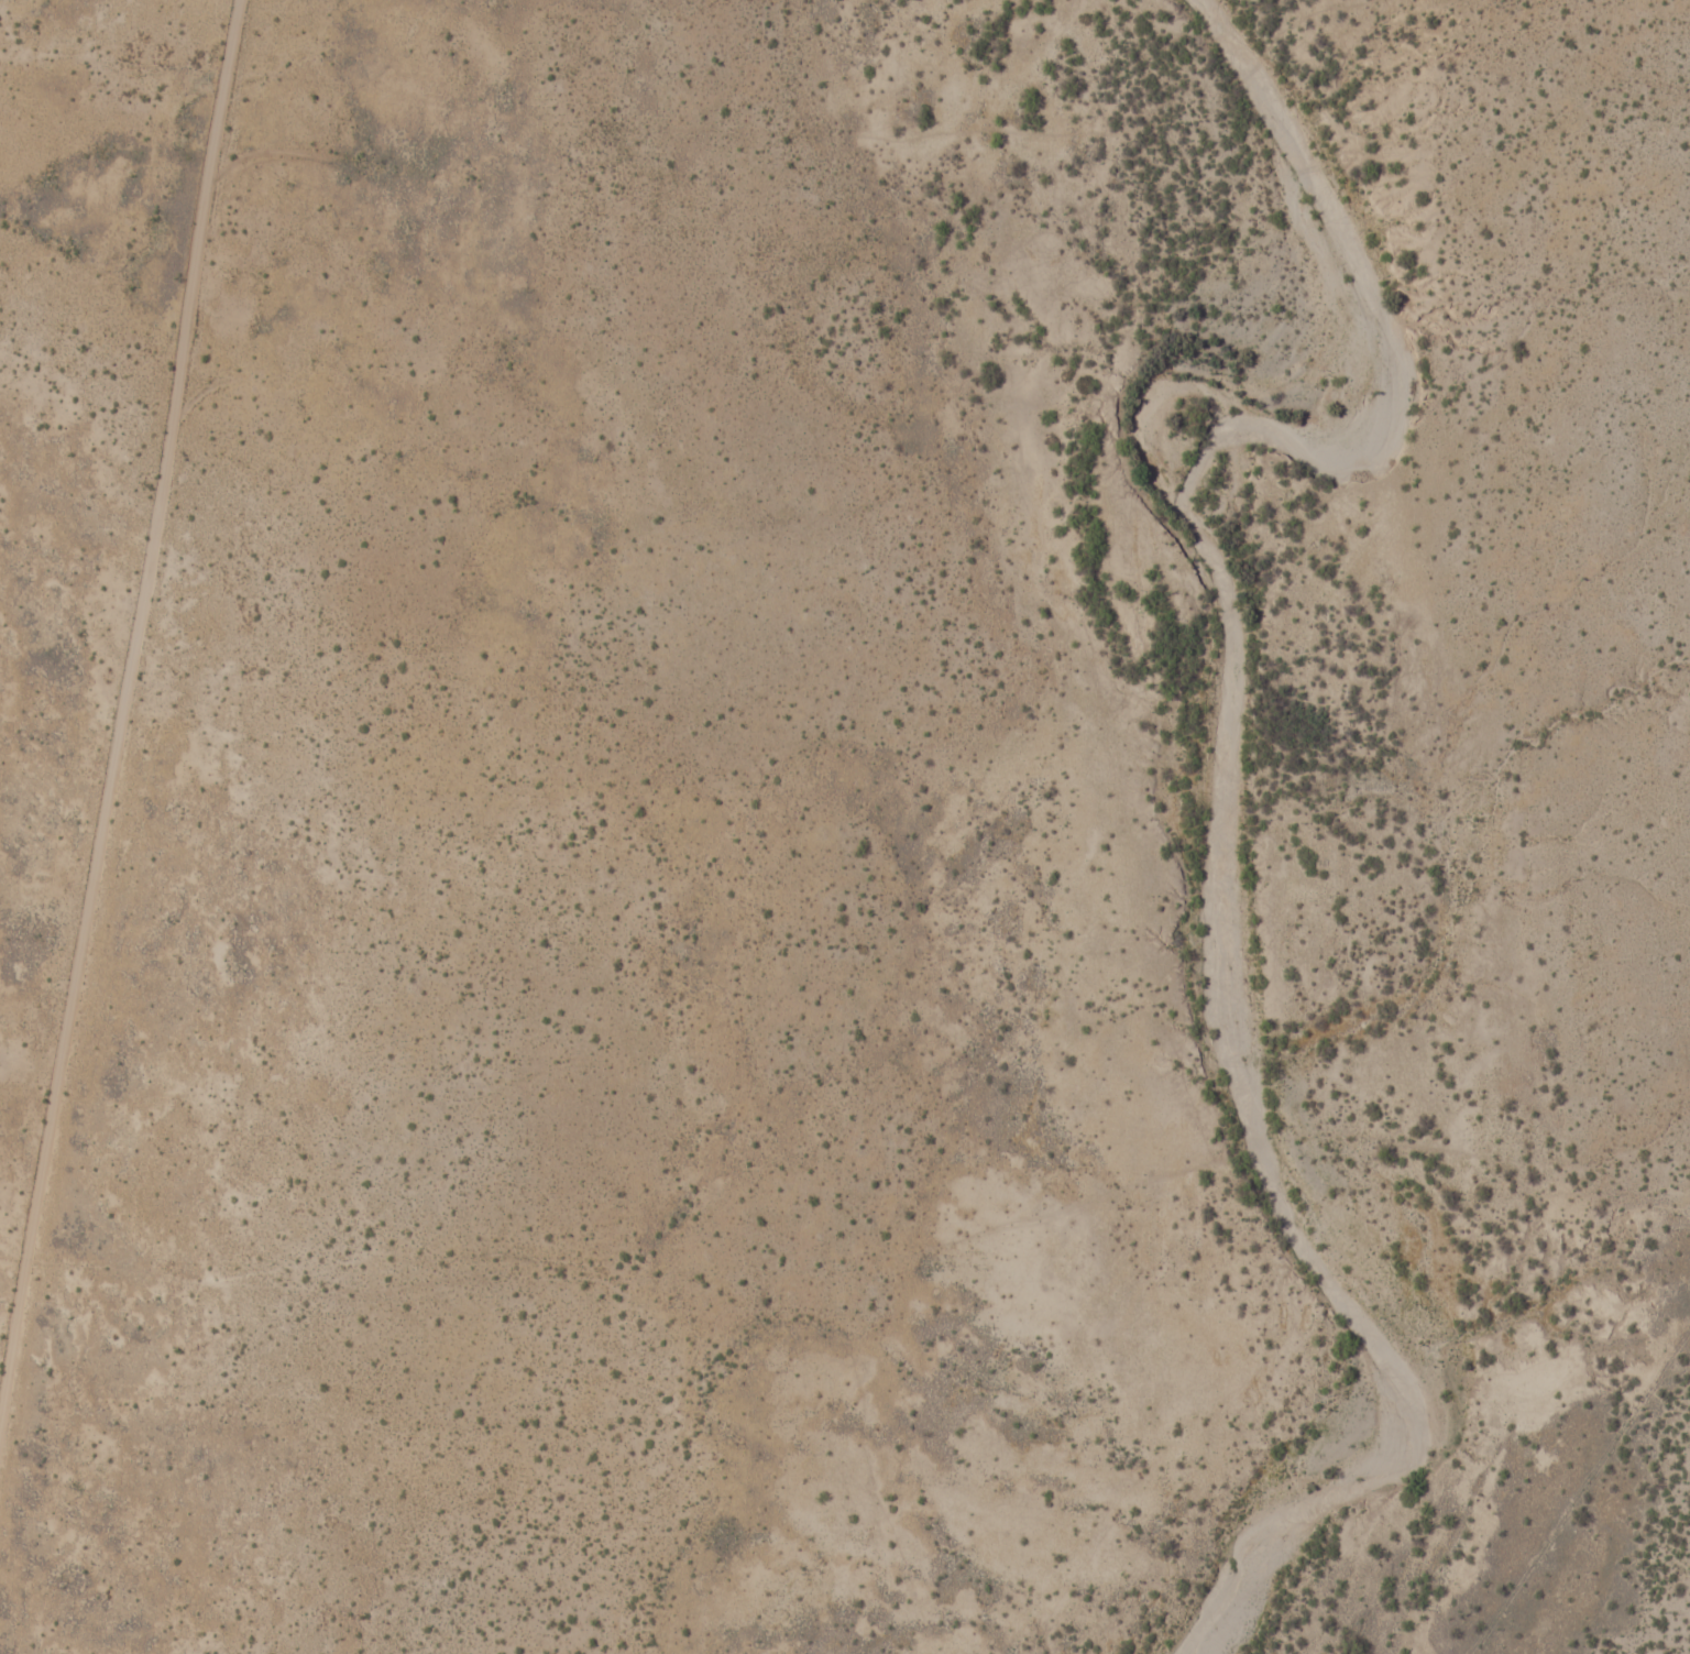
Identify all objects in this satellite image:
road: (78, 541)

